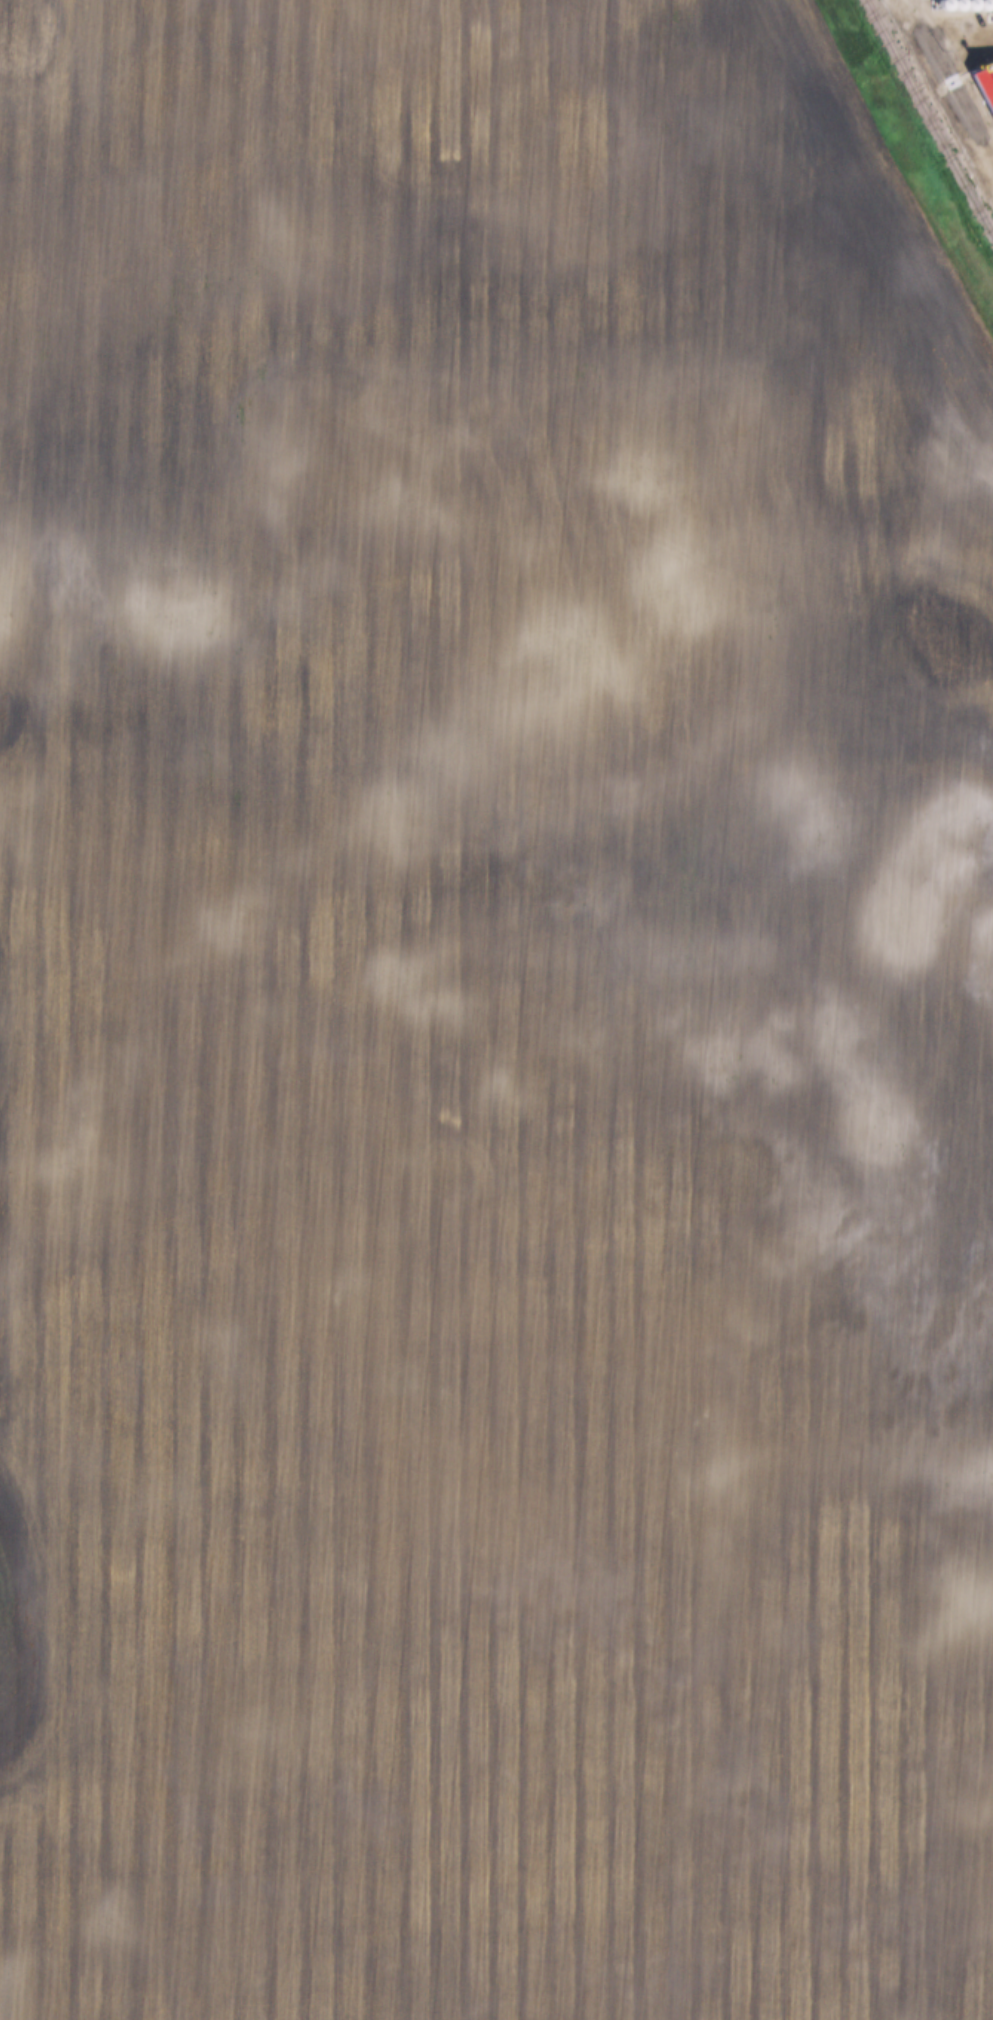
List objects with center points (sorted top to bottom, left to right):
building: (964, 9)
silo: (964, 9)
building: (978, 9)
silo: (978, 9)
building: (938, 10)
silo: (938, 10)
building: (951, 10)
silo: (951, 10)
railway: (955, 67)
building: (984, 87)
railway: (929, 119)

